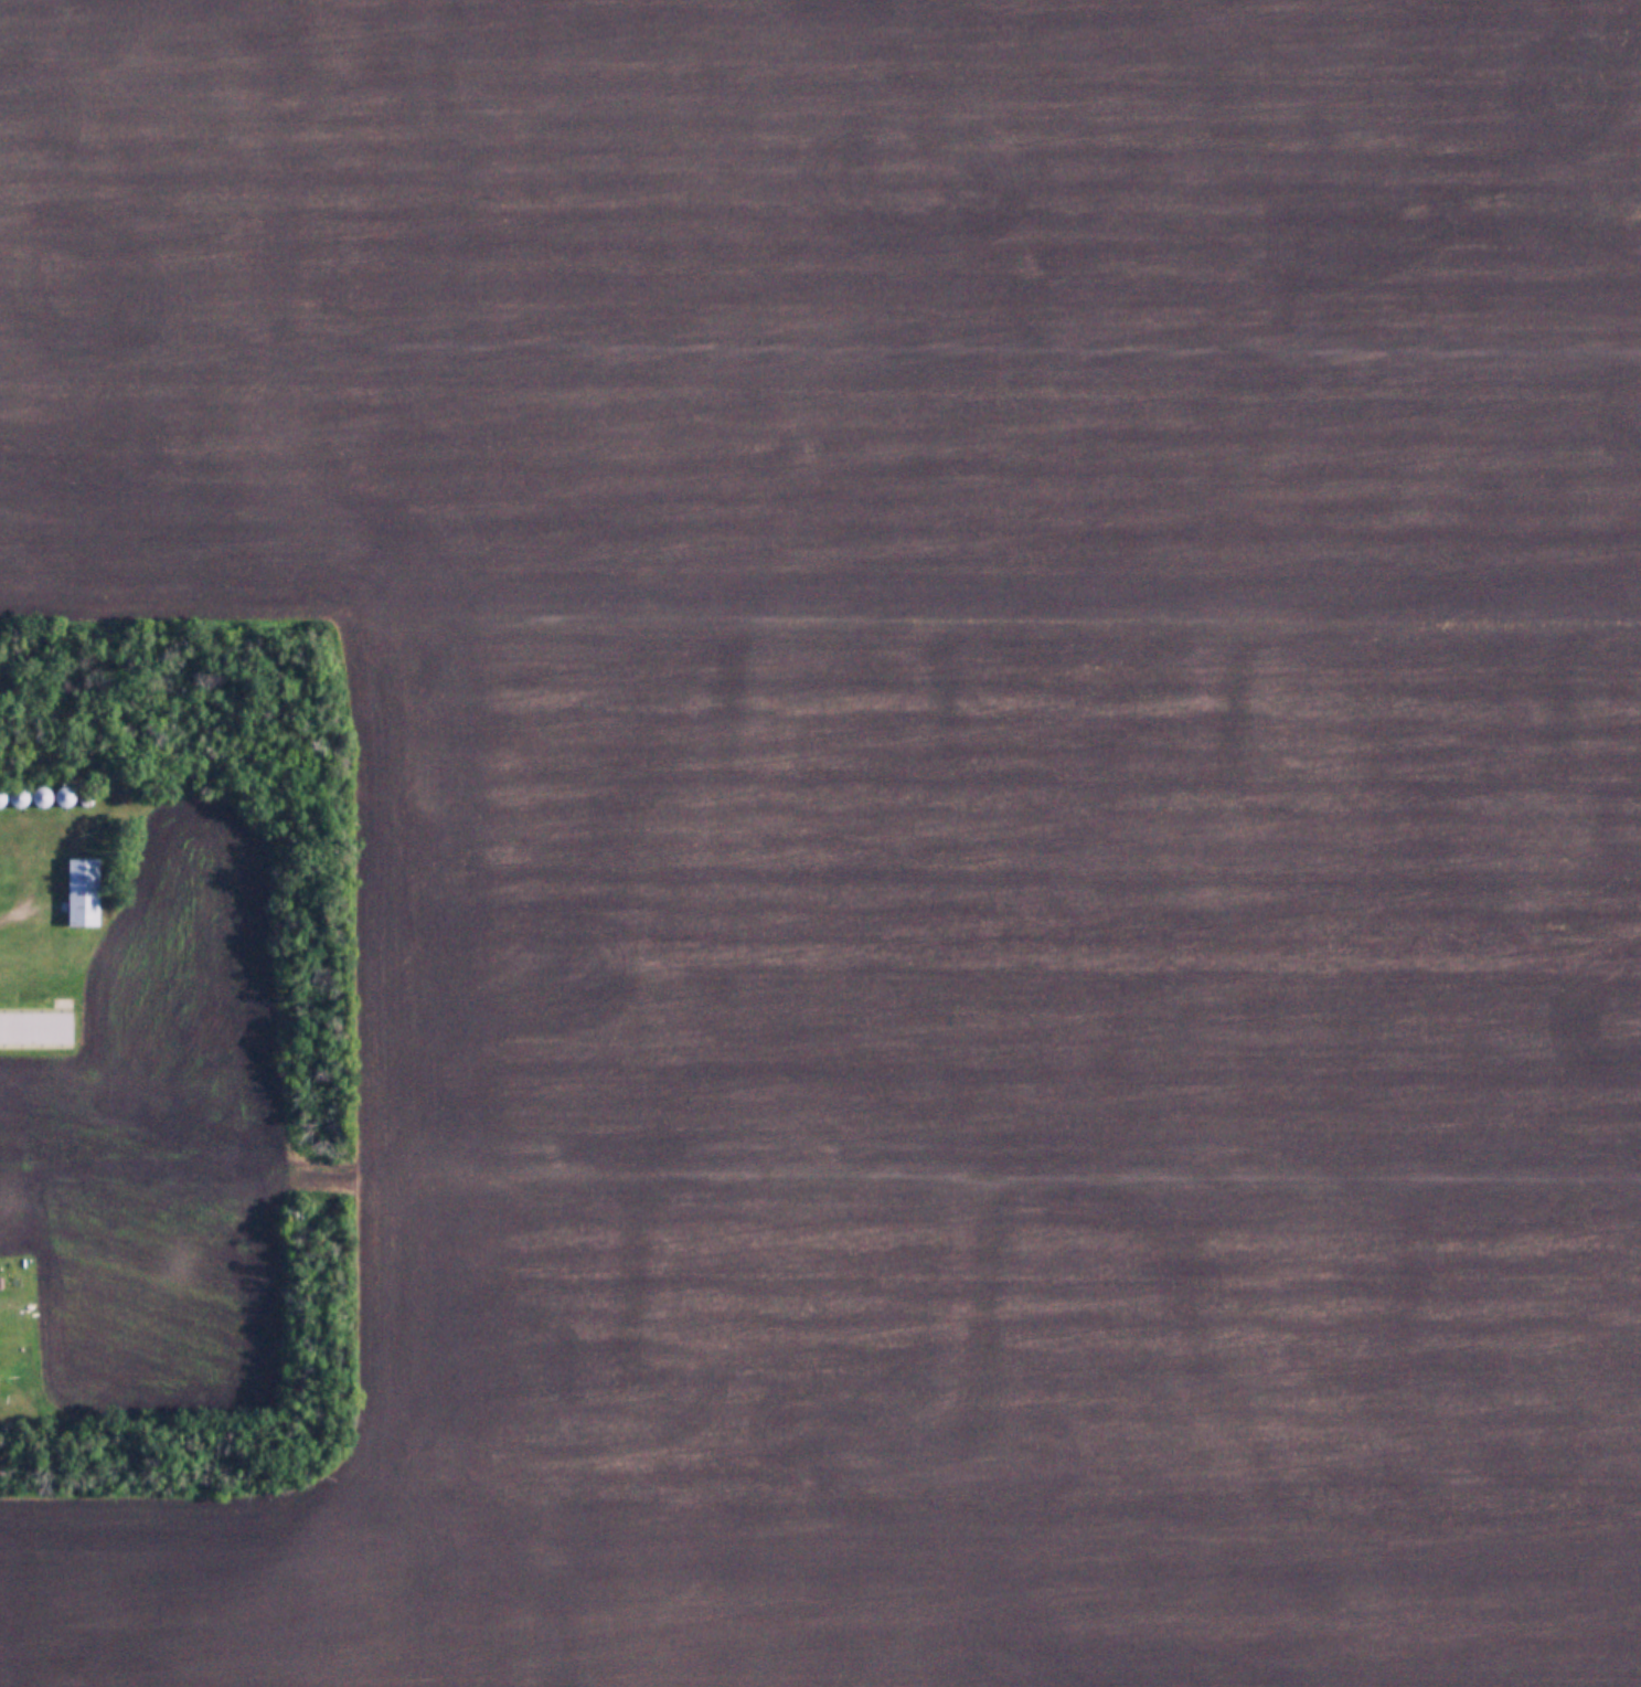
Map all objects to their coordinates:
building: (45, 794)
crop: (903, 816)
road: (28, 905)
crop: (161, 1133)

